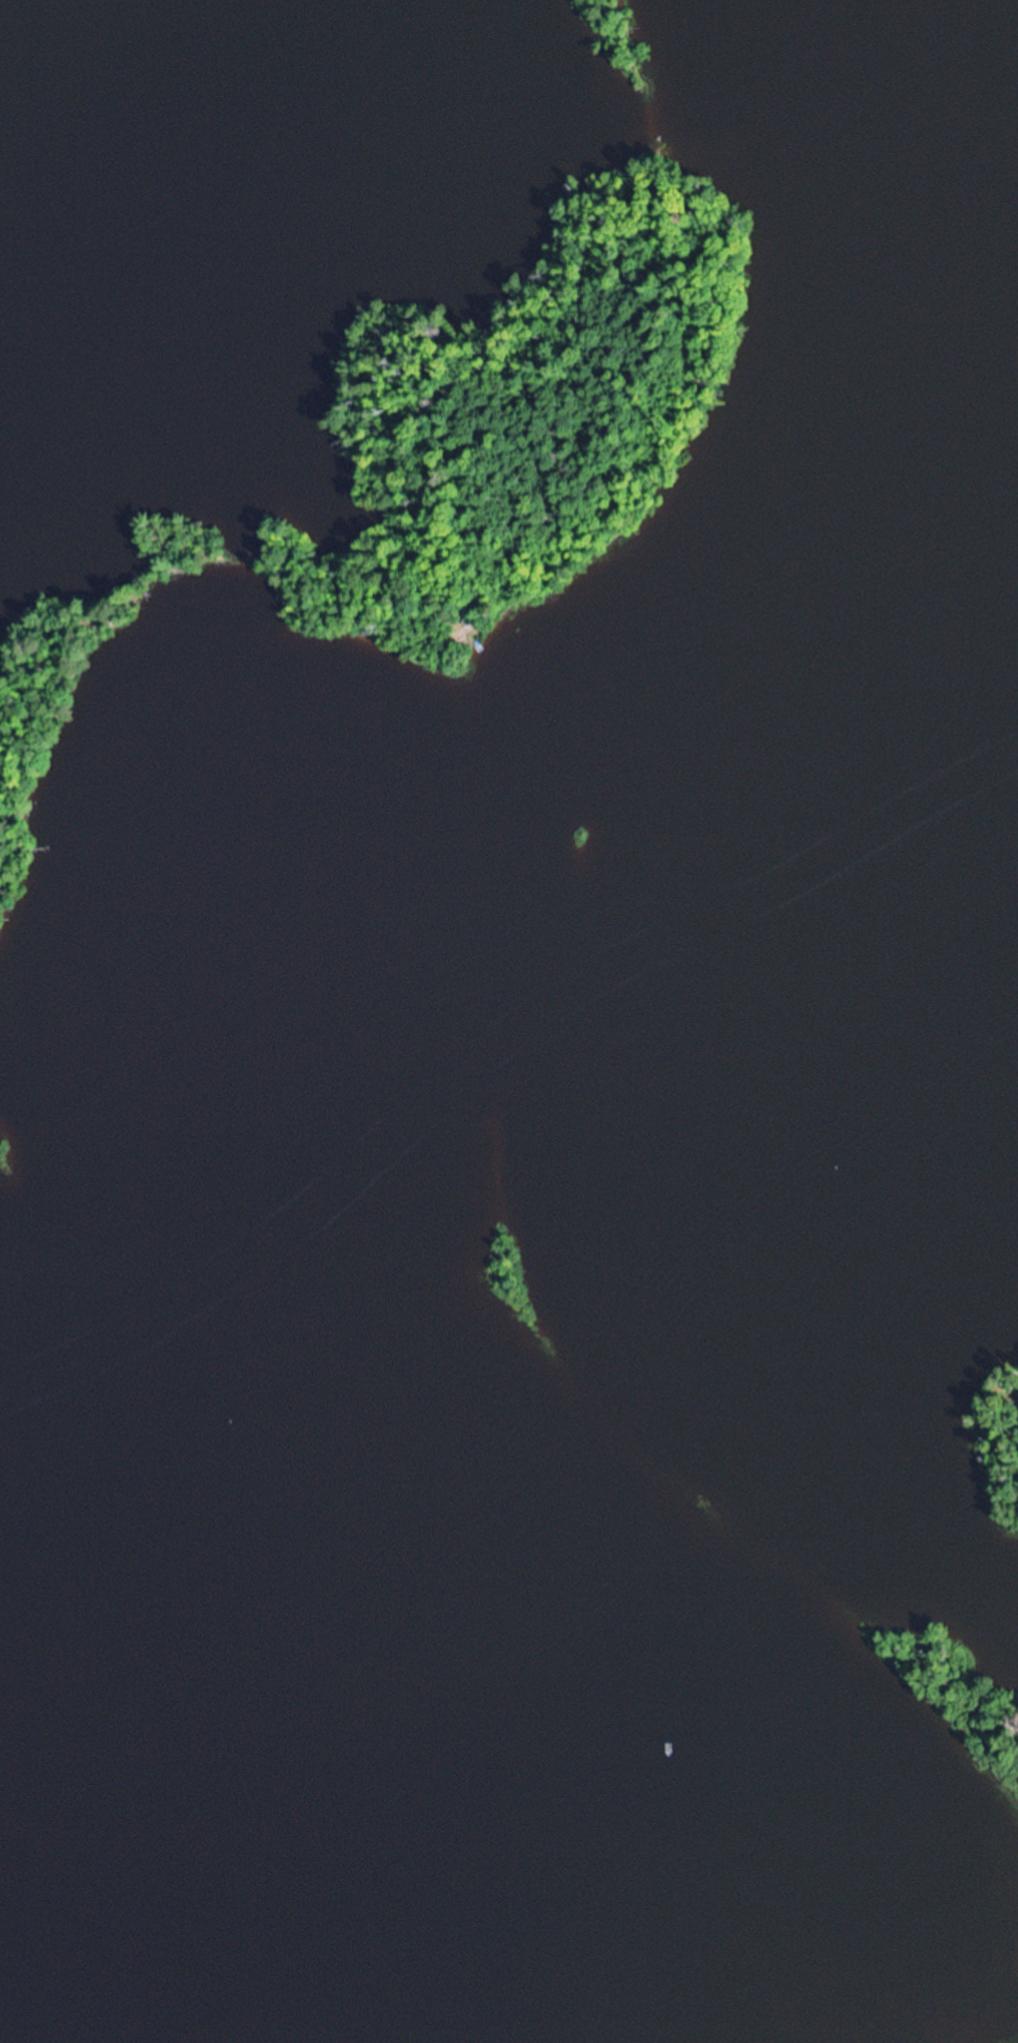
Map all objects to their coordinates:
river: (506, 889)

